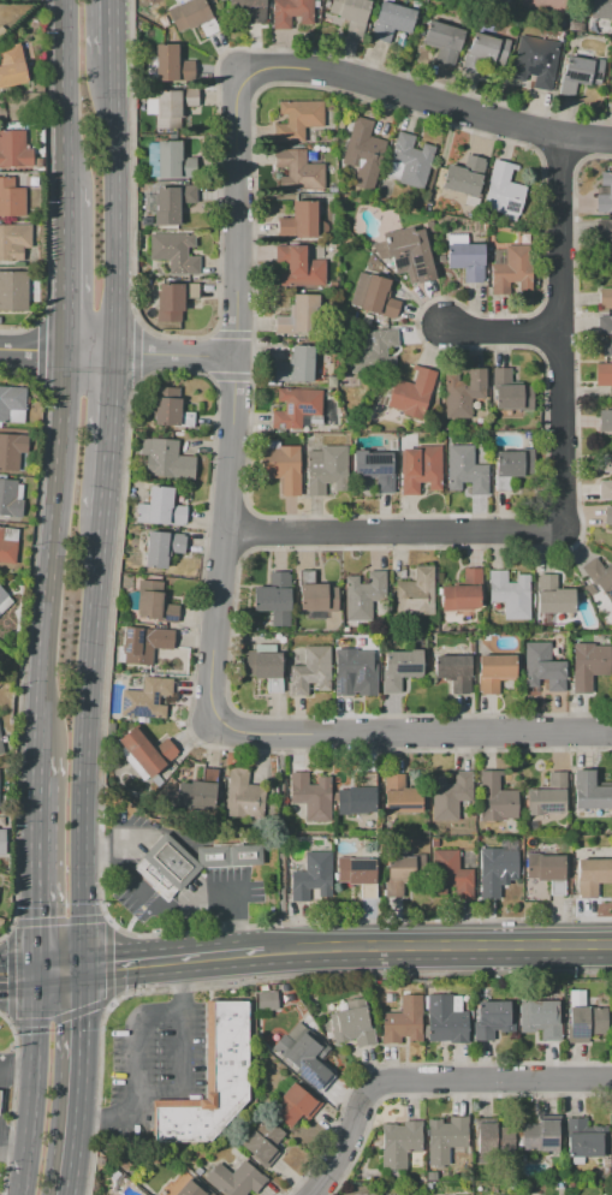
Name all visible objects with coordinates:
building: (506, 0)
building: (570, 0)
building: (316, 4)
building: (326, 4)
building: (545, 4)
building: (249, 8)
building: (601, 8)
building: (290, 11)
building: (188, 14)
building: (351, 14)
building: (164, 22)
building: (390, 22)
road: (115, 25)
building: (574, 26)
building: (442, 42)
building: (483, 52)
building: (534, 63)
building: (171, 65)
building: (11, 67)
building: (580, 72)
building: (611, 72)
road: (67, 94)
road: (427, 100)
building: (172, 106)
building: (297, 120)
road: (541, 133)
road: (587, 138)
building: (362, 145)
building: (13, 149)
road: (562, 155)
building: (311, 156)
building: (168, 161)
building: (409, 161)
building: (298, 171)
building: (464, 177)
road: (43, 179)
building: (503, 189)
road: (216, 191)
building: (604, 194)
building: (11, 198)
road: (118, 201)
building: (172, 203)
building: (145, 220)
building: (298, 220)
road: (541, 220)
building: (605, 236)
building: (523, 238)
building: (13, 242)
building: (174, 252)
building: (406, 254)
building: (464, 257)
building: (299, 268)
building: (511, 268)
road: (65, 269)
building: (332, 285)
building: (13, 291)
building: (373, 296)
building: (605, 298)
building: (172, 301)
road: (557, 307)
building: (298, 316)
building: (367, 319)
road: (537, 328)
road: (499, 331)
road: (559, 332)
road: (231, 333)
building: (605, 333)
road: (40, 349)
road: (117, 350)
road: (136, 351)
road: (557, 352)
building: (375, 353)
building: (293, 365)
building: (604, 374)
road: (227, 375)
building: (411, 392)
building: (462, 393)
building: (510, 394)
road: (232, 396)
building: (12, 404)
building: (296, 406)
building: (171, 414)
building: (605, 421)
building: (315, 422)
road: (113, 435)
building: (392, 446)
building: (11, 451)
building: (164, 458)
building: (512, 466)
building: (283, 468)
building: (326, 469)
building: (420, 469)
building: (374, 470)
building: (465, 470)
road: (123, 472)
building: (611, 477)
building: (11, 498)
road: (226, 505)
building: (159, 509)
building: (607, 516)
road: (246, 530)
road: (390, 531)
building: (8, 546)
road: (350, 547)
building: (160, 548)
road: (224, 551)
road: (52, 553)
building: (599, 577)
building: (589, 589)
building: (462, 591)
building: (416, 593)
building: (510, 594)
building: (363, 595)
building: (552, 596)
building: (273, 599)
building: (316, 599)
building: (5, 601)
building: (151, 602)
building: (345, 629)
building: (485, 637)
road: (24, 638)
building: (153, 650)
building: (261, 662)
building: (587, 665)
building: (399, 667)
building: (542, 667)
building: (310, 671)
building: (350, 671)
building: (452, 671)
building: (494, 672)
building: (147, 698)
road: (411, 731)
road: (88, 744)
building: (0, 748)
building: (147, 750)
building: (202, 790)
building: (589, 792)
building: (242, 795)
building: (399, 795)
building: (450, 795)
building: (311, 796)
building: (548, 796)
building: (357, 797)
building: (495, 798)
building: (531, 825)
building: (2, 842)
building: (433, 843)
building: (227, 855)
road: (36, 864)
building: (165, 866)
building: (494, 869)
building: (546, 870)
building: (400, 872)
building: (451, 873)
building: (358, 874)
building: (592, 875)
building: (313, 876)
traffic signals: (35, 909)
road: (173, 911)
building: (1, 922)
road: (439, 949)
road: (176, 963)
traffic signals: (113, 969)
road: (60, 971)
road: (17, 973)
traffic signals: (5, 974)
road: (261, 979)
road: (183, 982)
building: (266, 997)
building: (352, 1004)
building: (341, 1006)
road: (59, 1016)
building: (307, 1017)
building: (611, 1017)
building: (493, 1018)
building: (537, 1018)
building: (583, 1018)
building: (445, 1019)
building: (403, 1021)
building: (311, 1023)
building: (287, 1025)
building: (351, 1027)
traffic signals: (83, 1029)
parking lot: (151, 1054)
building: (303, 1054)
road: (411, 1063)
road: (180, 1074)
road: (137, 1075)
road: (13, 1078)
building: (210, 1080)
road: (487, 1080)
road: (77, 1082)
road: (26, 1083)
road: (440, 1093)
road: (12, 1096)
building: (293, 1105)
building: (611, 1132)
building: (541, 1134)
parking lot: (0, 1136)
building: (493, 1137)
building: (446, 1138)
building: (584, 1140)
building: (262, 1141)
building: (399, 1143)
road: (343, 1146)
building: (100, 1160)
building: (605, 1163)
building: (124, 1165)
building: (198, 1171)
building: (114, 1175)
building: (234, 1179)
building: (192, 1188)

